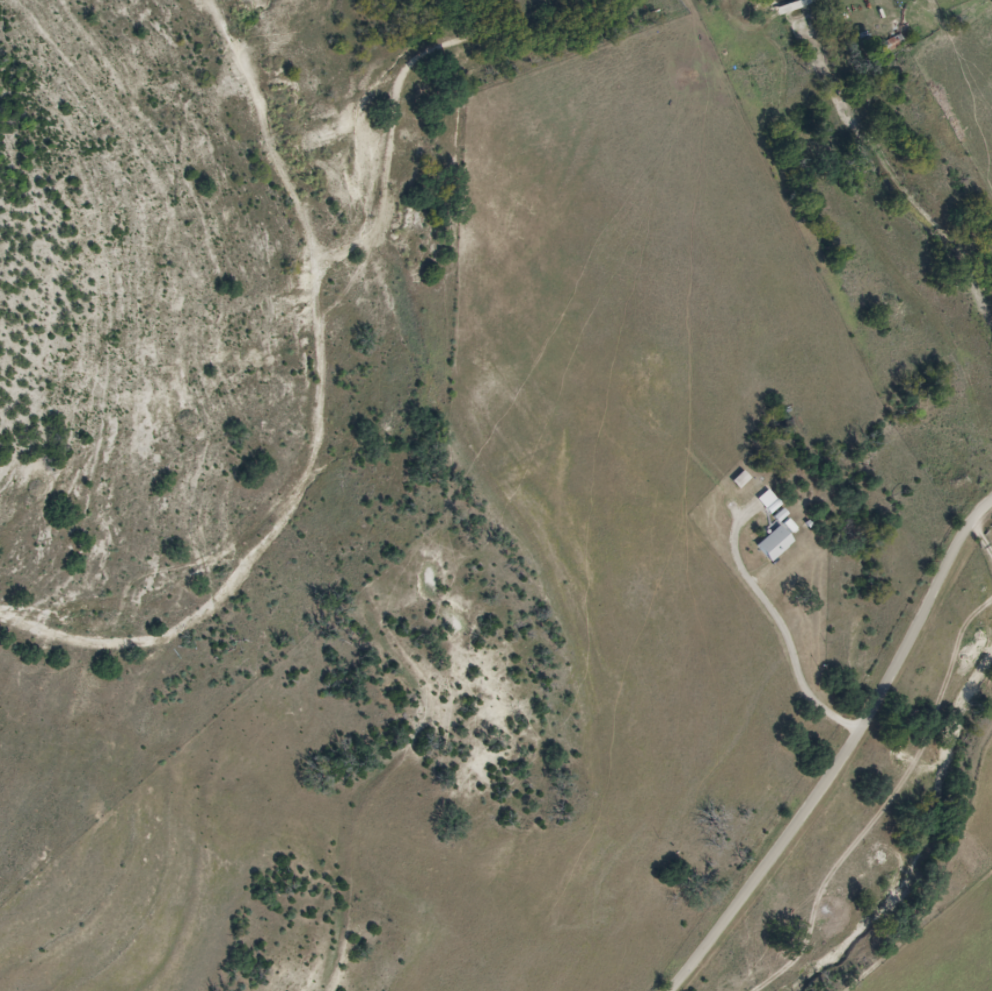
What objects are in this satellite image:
road: (248, 445)
building: (775, 503)
building: (781, 544)
road: (790, 630)
road: (873, 760)

